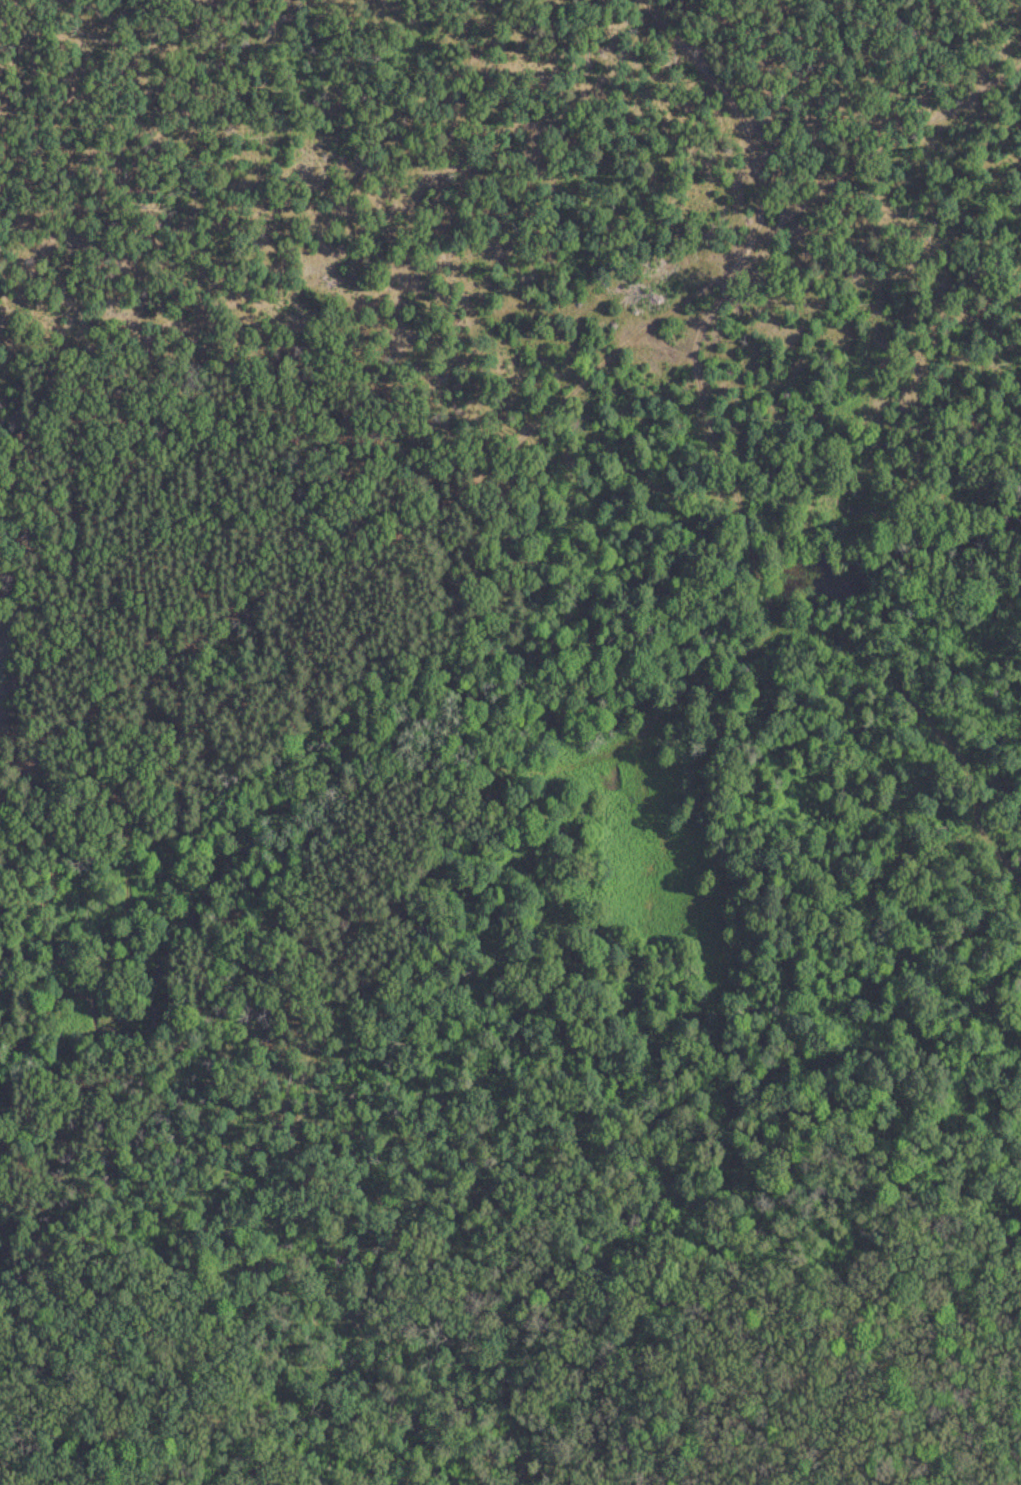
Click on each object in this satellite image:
road: (493, 454)

